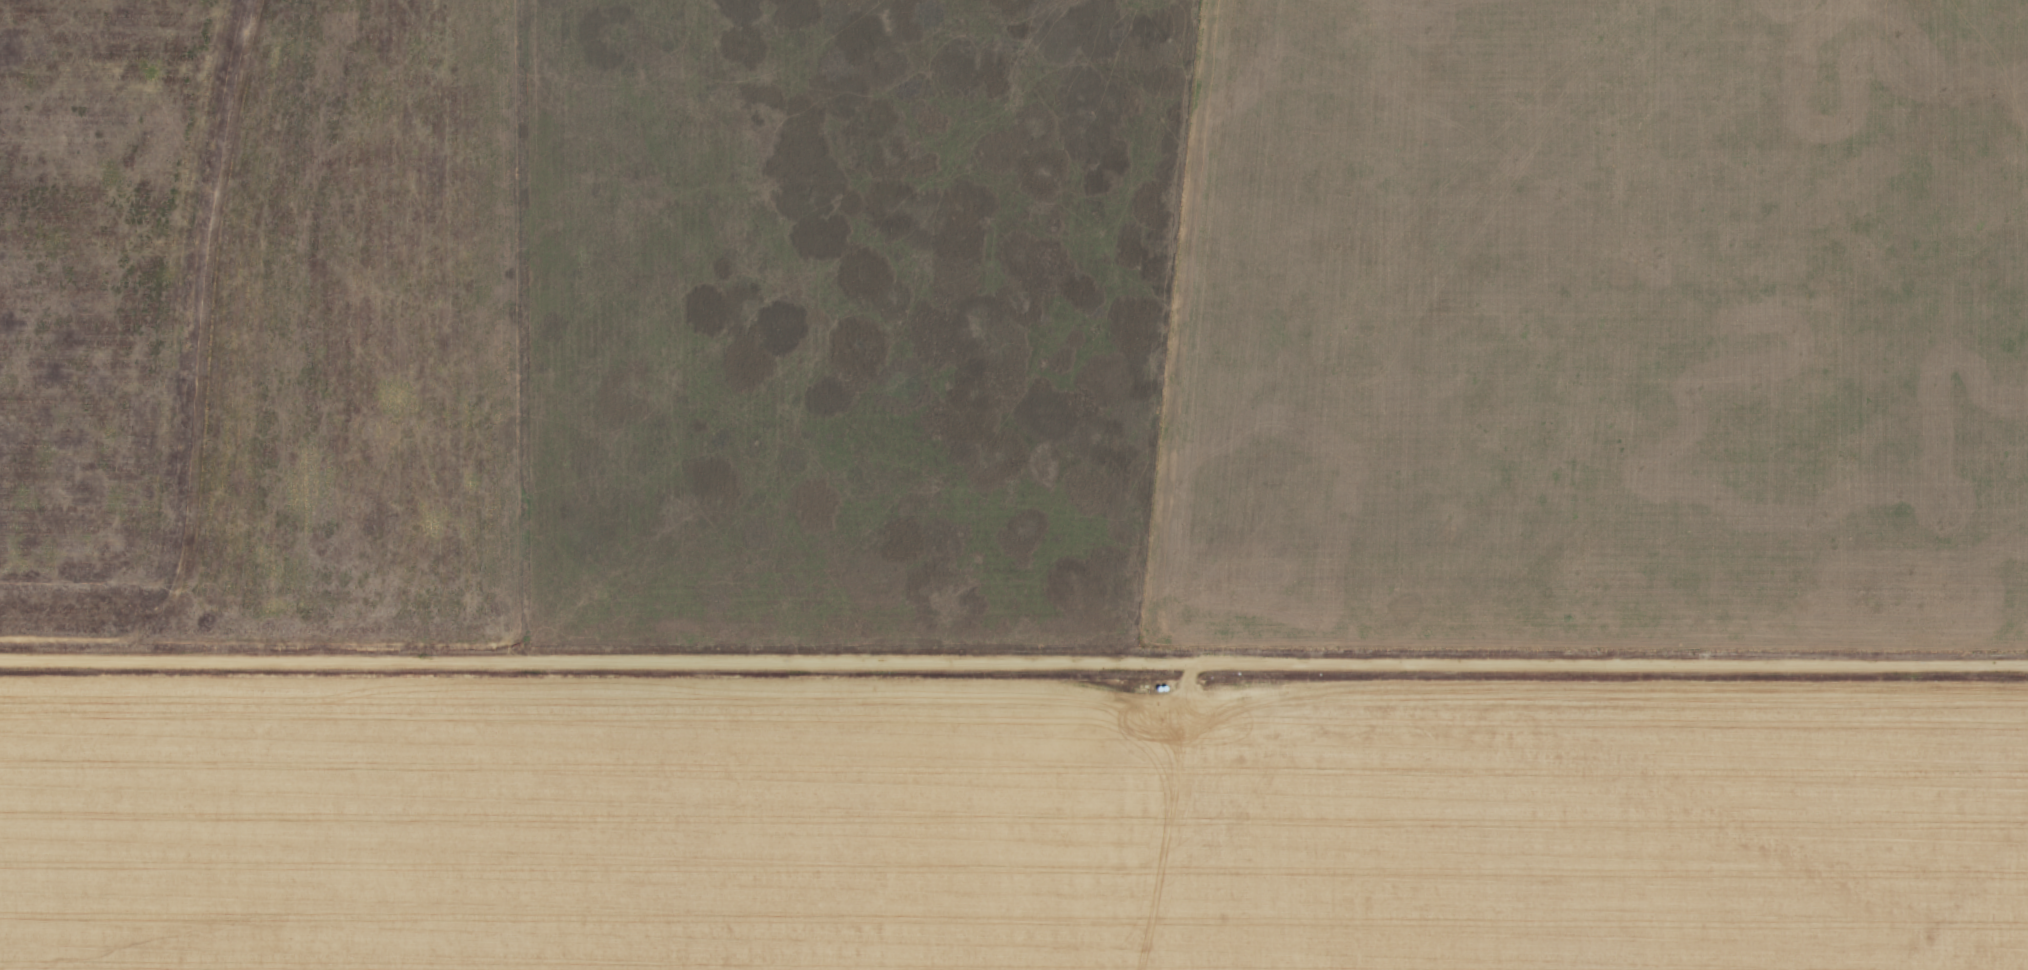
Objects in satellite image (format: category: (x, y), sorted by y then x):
road: (1013, 660)

